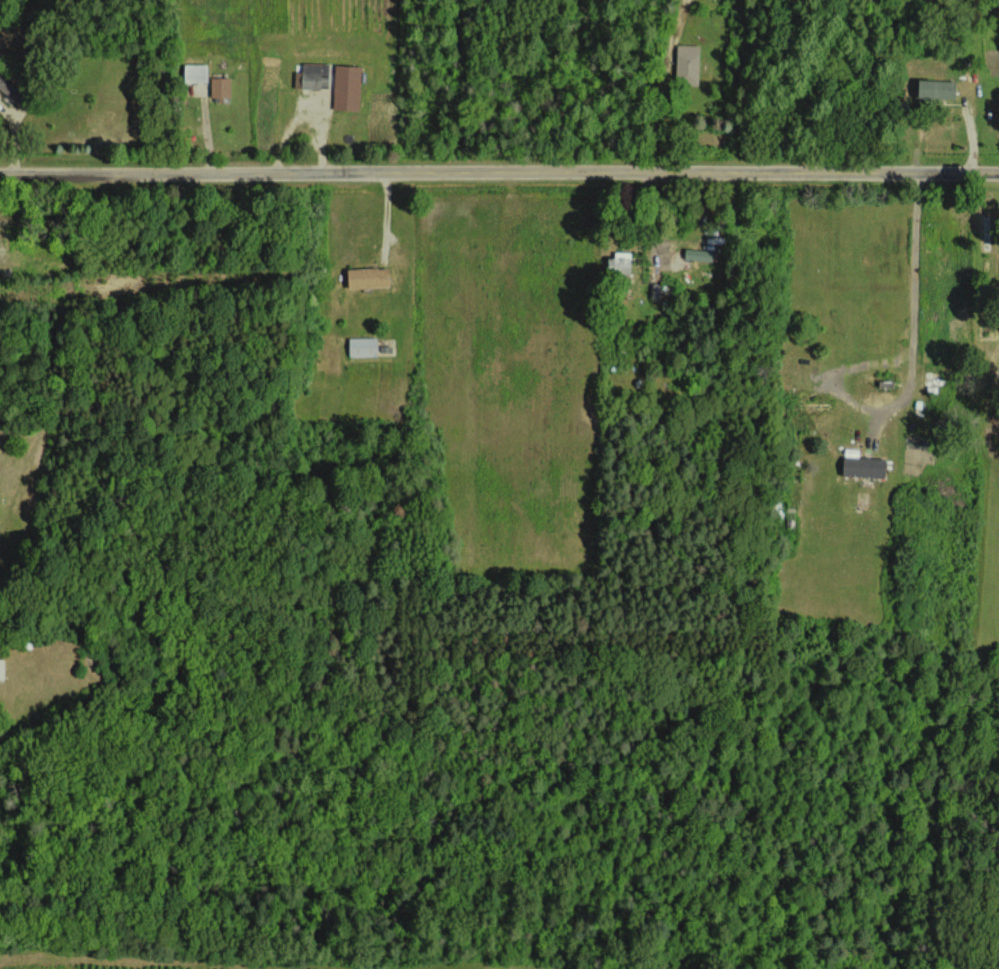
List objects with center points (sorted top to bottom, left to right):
building: (687, 64)
building: (193, 72)
building: (314, 75)
building: (346, 86)
building: (934, 88)
road: (499, 176)
road: (983, 228)
building: (698, 254)
building: (617, 266)
building: (366, 277)
building: (361, 346)
road: (914, 371)
building: (861, 466)
building: (2, 669)

